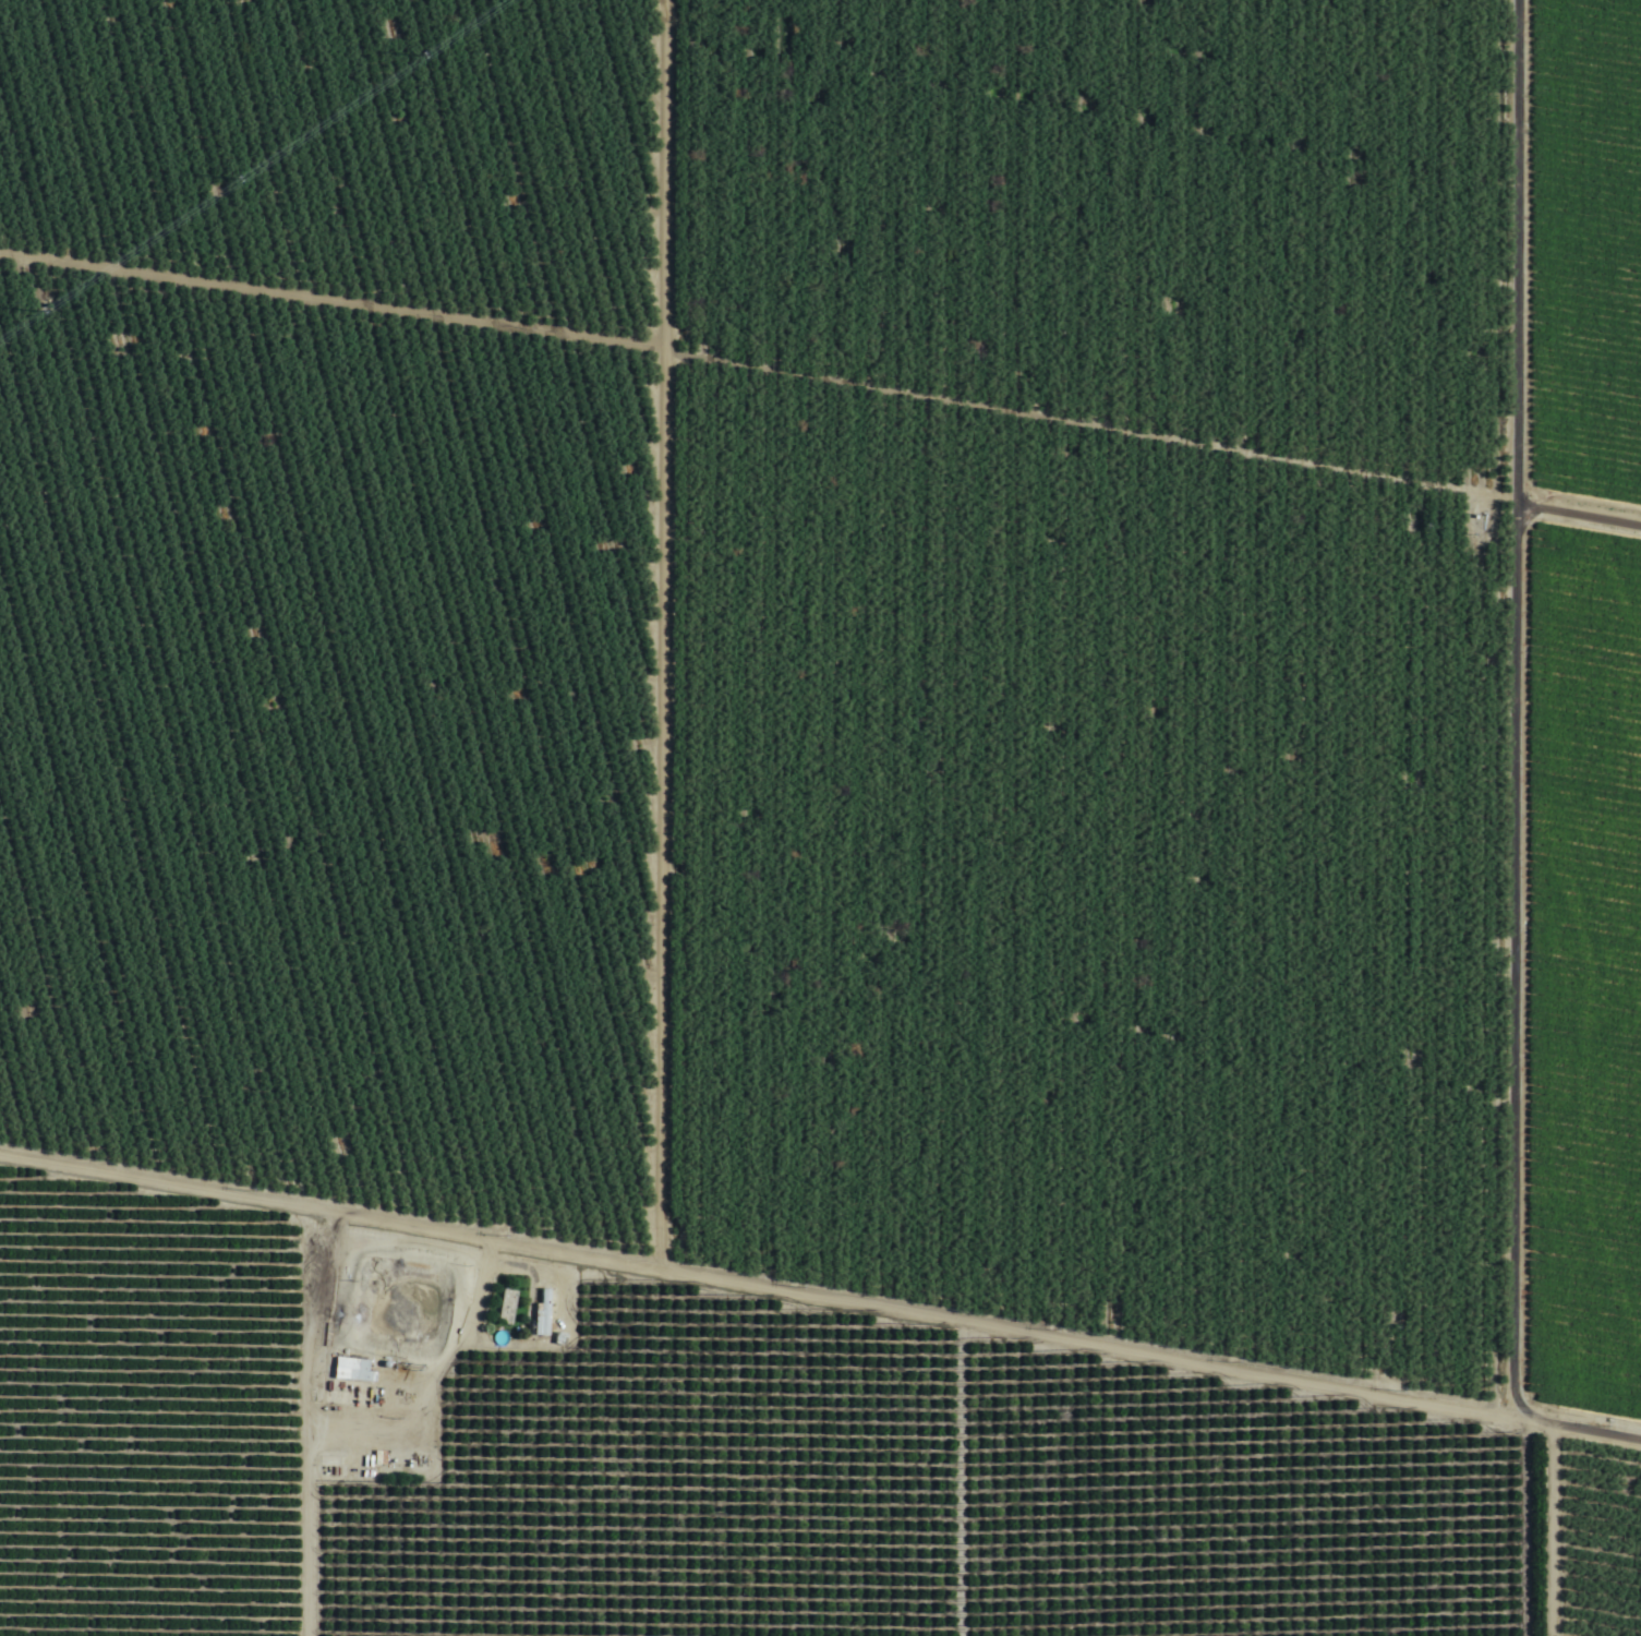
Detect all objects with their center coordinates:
road: (1415, 707)
crop: (820, 818)
building: (505, 1308)
building: (543, 1313)
road: (822, 1315)
wastewater plant: (402, 1321)
building: (351, 1370)
building: (164, 1407)
road: (1545, 1545)
building: (1118, 1585)
building: (992, 1593)

